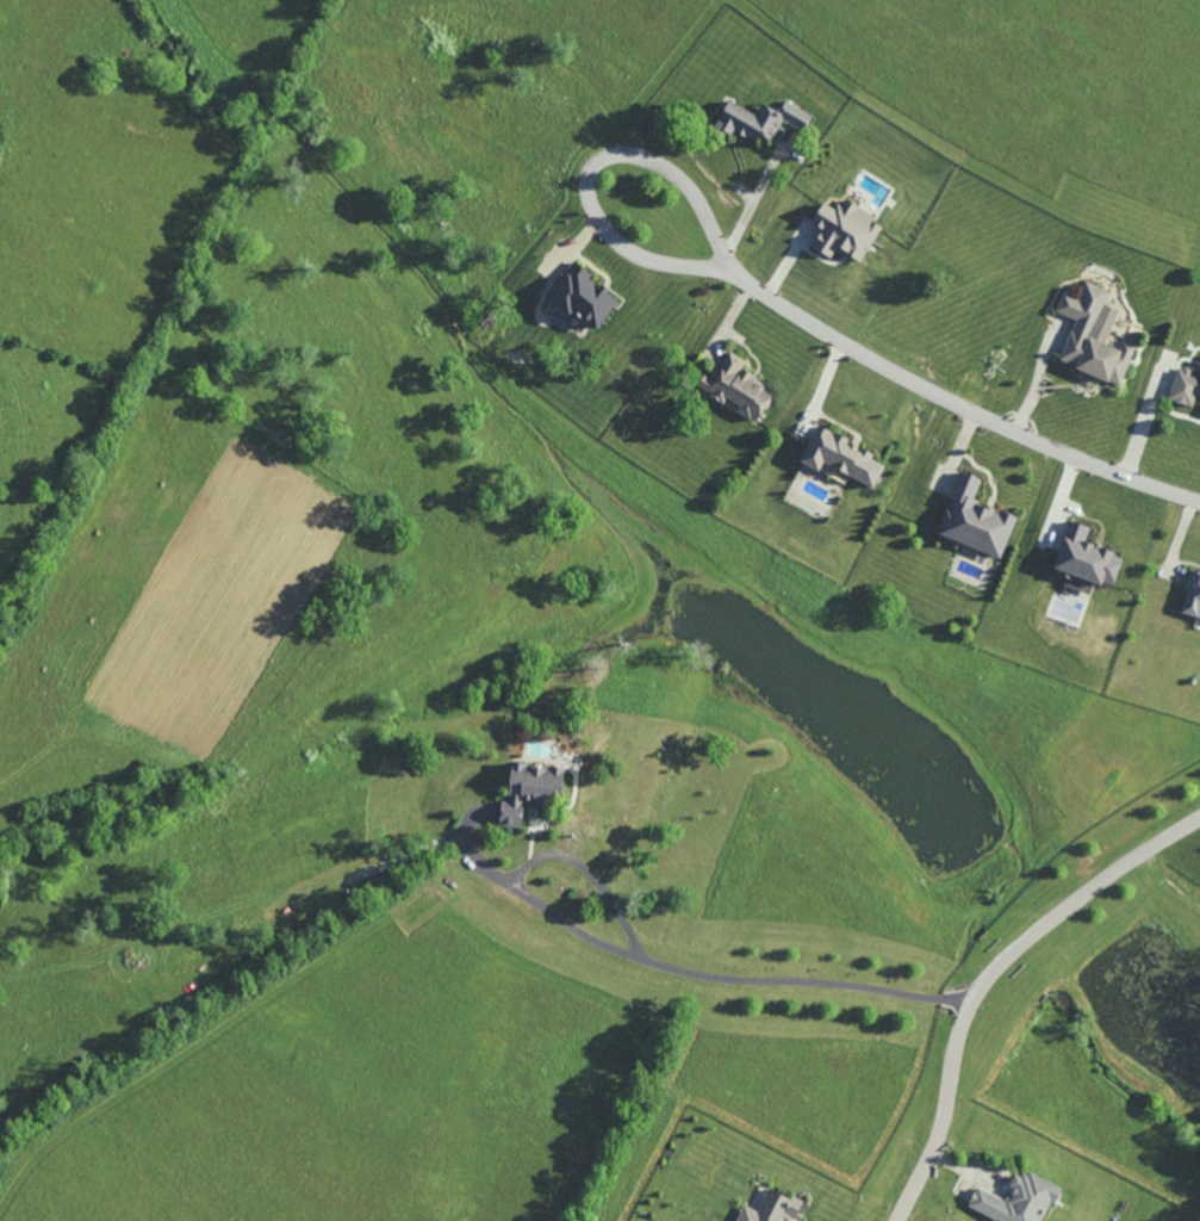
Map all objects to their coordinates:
building: (761, 119)
road: (591, 165)
road: (753, 193)
building: (845, 230)
building: (585, 297)
building: (1093, 334)
building: (738, 386)
building: (1185, 386)
road: (953, 401)
building: (843, 455)
building: (975, 519)
building: (1087, 557)
building: (1192, 596)
building: (530, 791)
road: (592, 872)
road: (677, 968)
road: (988, 975)
building: (1016, 1200)
building: (770, 1208)

